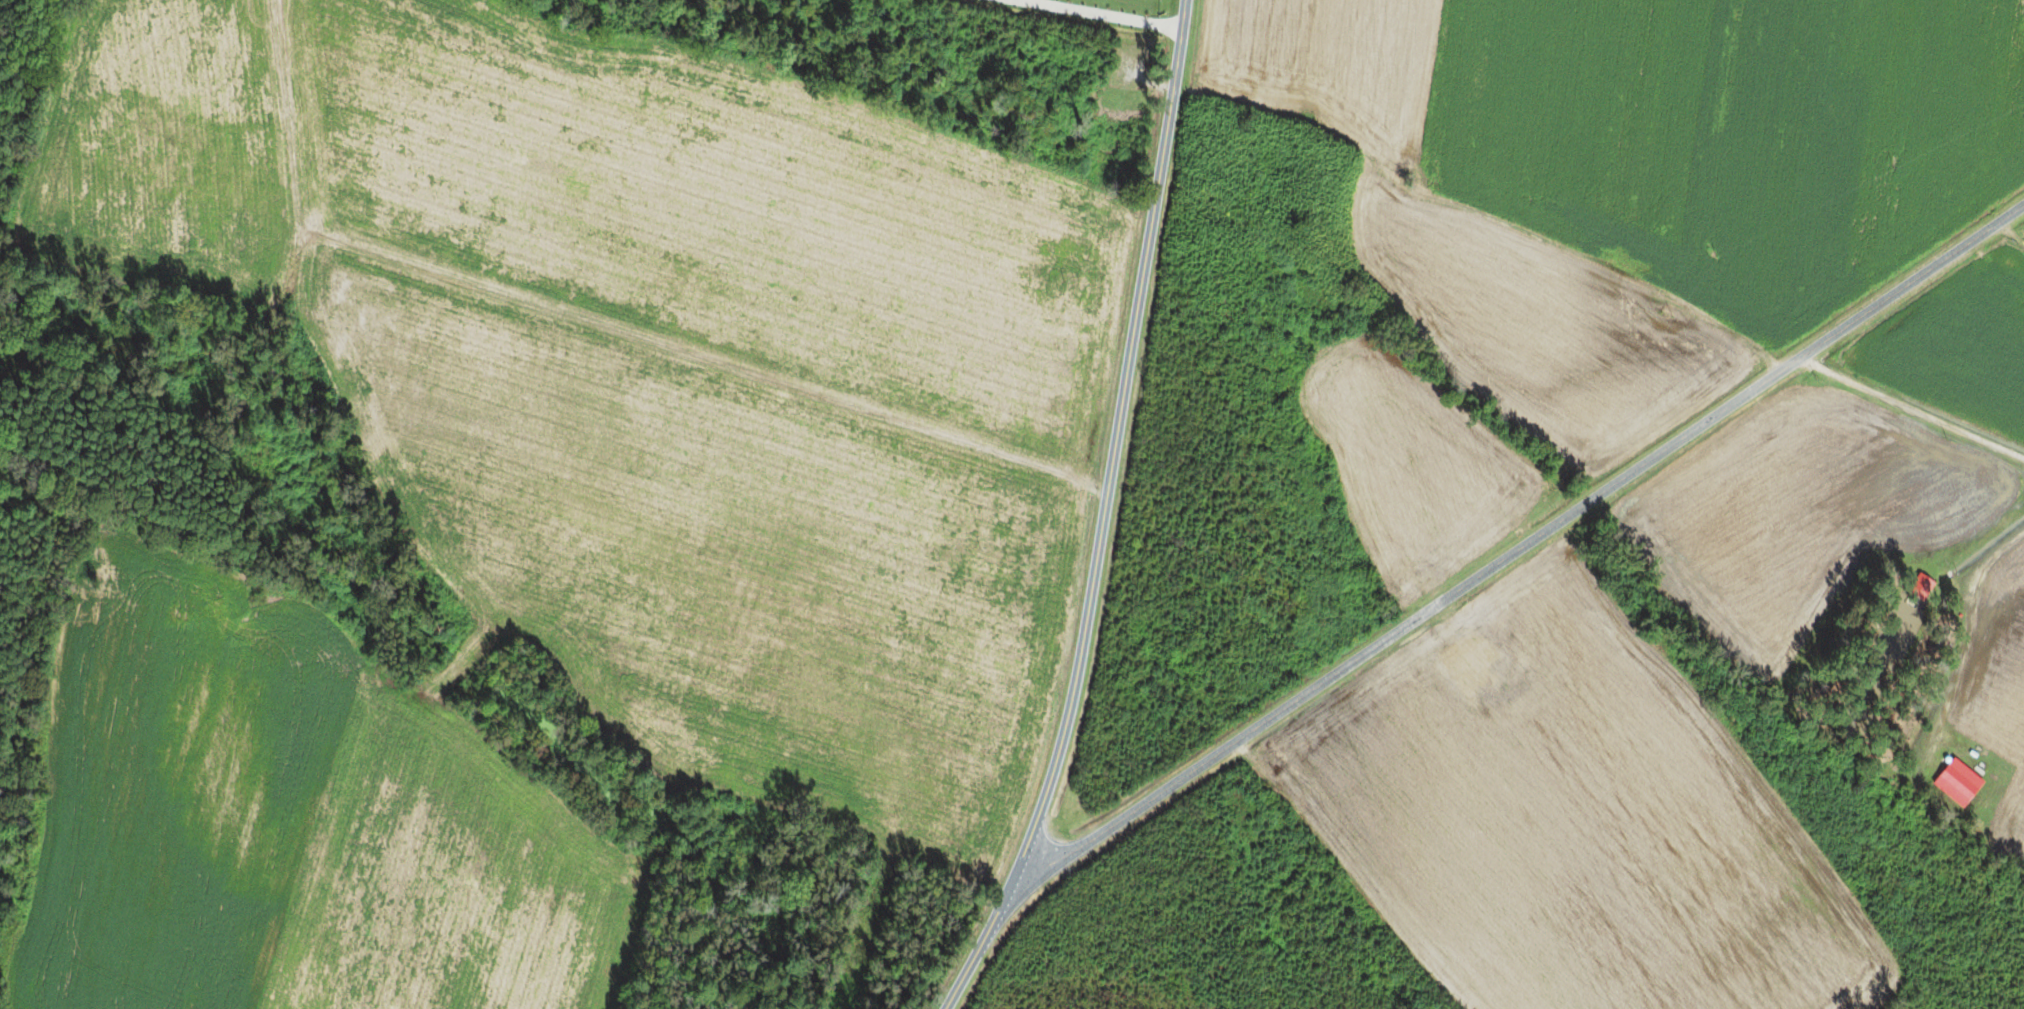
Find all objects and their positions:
road: (2013, 233)
road: (690, 357)
road: (1912, 410)
road: (1101, 516)
road: (1525, 544)
building: (1469, 650)

